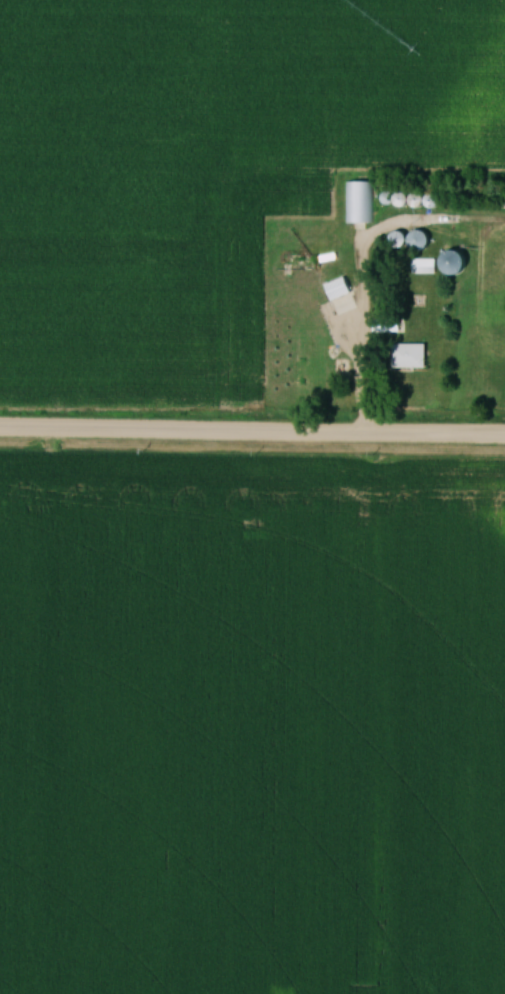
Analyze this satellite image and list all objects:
building: (272, 190)
building: (309, 195)
building: (359, 201)
building: (457, 261)
building: (341, 288)
building: (414, 356)
road: (361, 360)
road: (252, 436)

